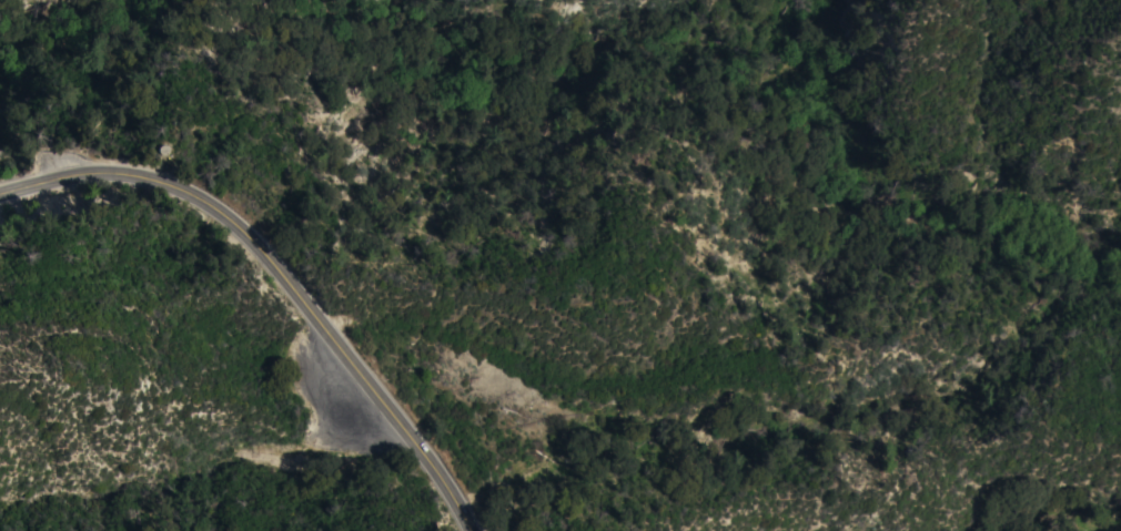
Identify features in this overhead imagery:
road: (109, 172)
road: (886, 198)
road: (360, 355)

